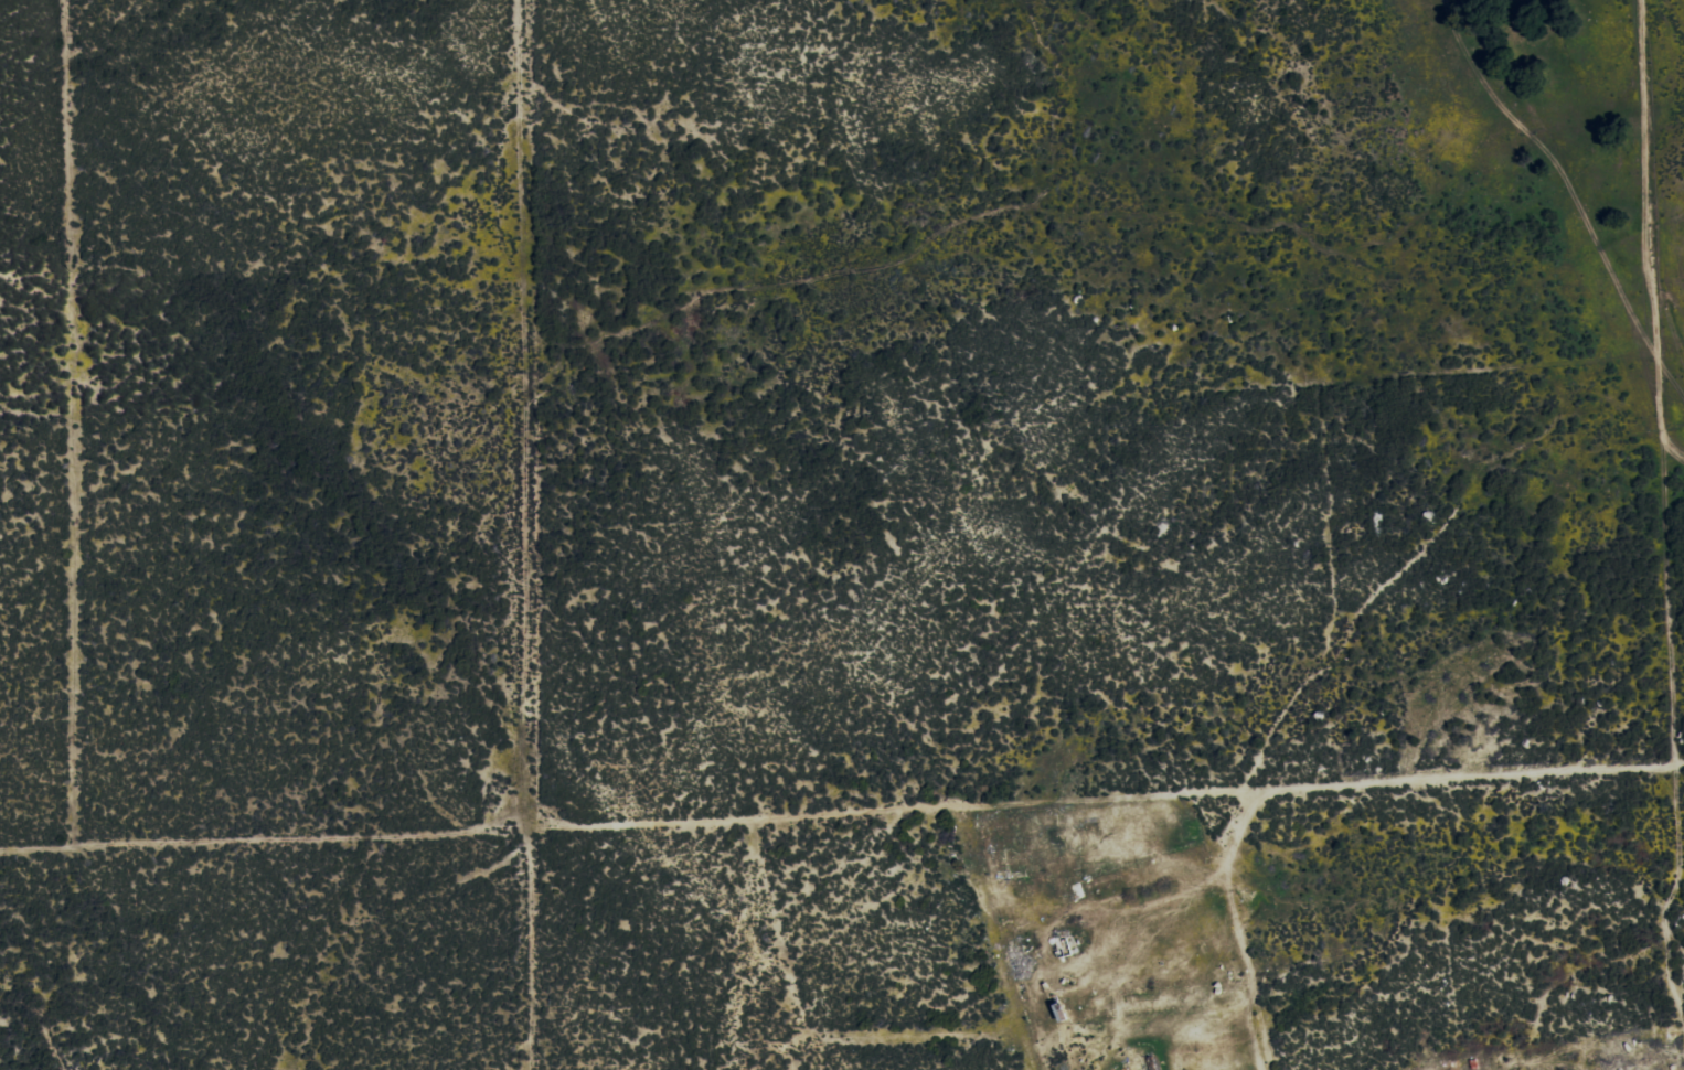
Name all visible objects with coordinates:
road: (1650, 217)
road: (1673, 446)
road: (1669, 600)
road: (843, 813)

